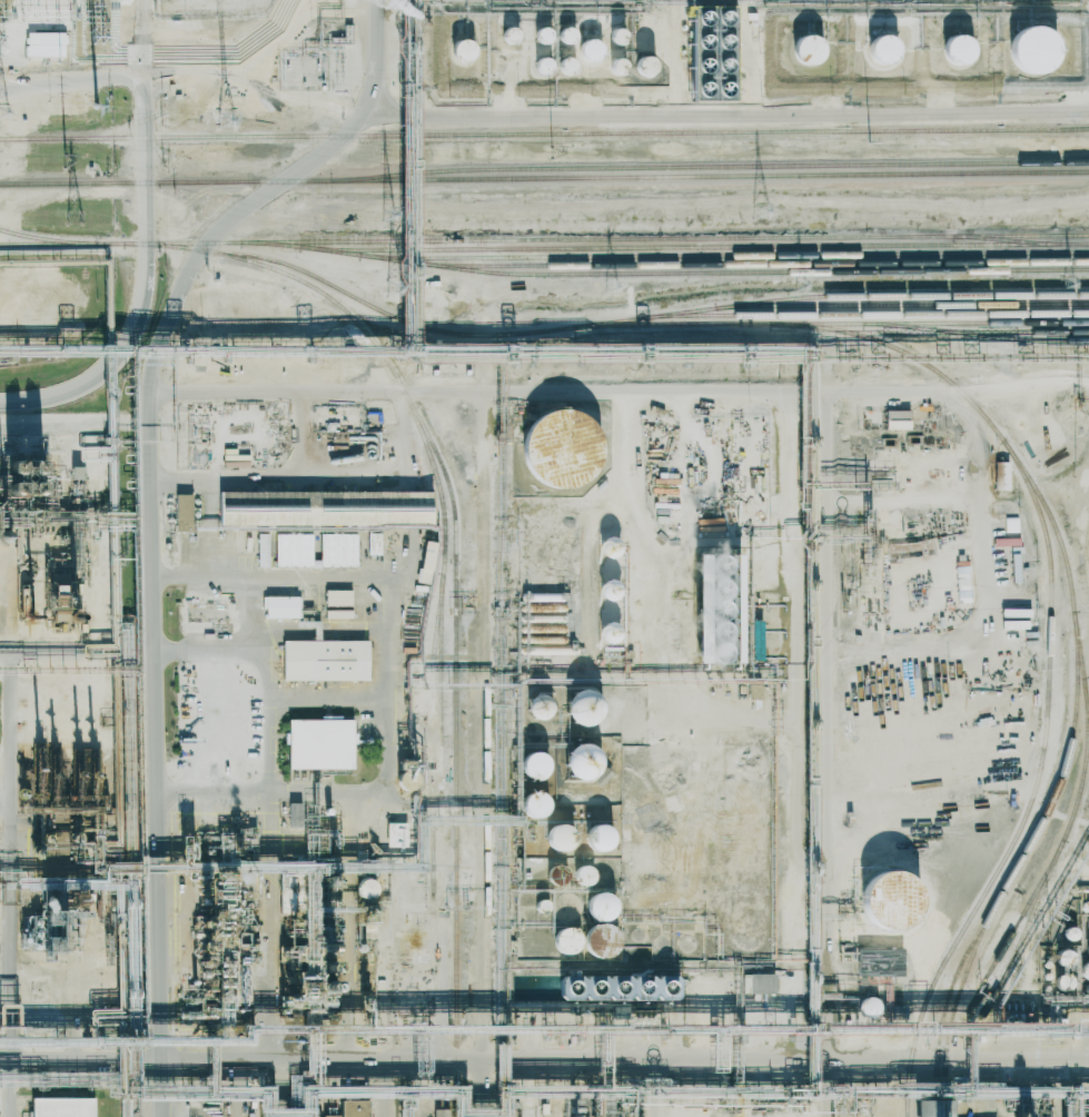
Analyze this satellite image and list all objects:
power substation: (212, 8)
building: (541, 33)
building: (508, 34)
building: (565, 34)
building: (616, 36)
building: (881, 48)
building: (588, 49)
building: (957, 49)
building: (806, 50)
building: (1032, 50)
building: (463, 51)
building: (564, 65)
building: (542, 66)
building: (615, 66)
building: (643, 67)
road: (71, 81)
power tower: (1, 111)
road: (726, 113)
railway: (148, 117)
power tower: (224, 119)
road: (143, 131)
railway: (544, 134)
power tower: (869, 144)
power tower: (545, 150)
railway: (710, 166)
power tower: (66, 168)
railway: (544, 177)
road: (276, 185)
power tower: (761, 210)
power tower: (387, 214)
power tower: (75, 217)
railway: (605, 238)
railway: (1007, 239)
railway: (61, 240)
railway: (51, 243)
railway: (693, 246)
railway: (723, 254)
railway: (752, 263)
railway: (663, 271)
power tower: (1068, 281)
power tower: (800, 284)
power tower: (393, 288)
railway: (824, 296)
railway: (901, 304)
railway: (864, 313)
railway: (976, 322)
railway: (929, 328)
railway: (438, 329)
railway: (1011, 337)
road: (105, 367)
road: (271, 388)
road: (388, 388)
building: (897, 419)
road: (75, 429)
building: (557, 448)
railway: (428, 453)
building: (1001, 475)
road: (230, 483)
building: (394, 510)
building: (263, 512)
building: (181, 513)
building: (374, 543)
building: (261, 550)
building: (293, 550)
building: (337, 550)
building: (610, 555)
building: (424, 562)
railway: (1067, 570)
railway: (455, 573)
building: (962, 573)
road: (380, 576)
building: (337, 597)
building: (281, 606)
building: (714, 609)
building: (610, 611)
road: (251, 612)
building: (1014, 613)
building: (338, 614)
building: (755, 643)
railway: (1048, 652)
building: (324, 660)
railway: (440, 681)
building: (537, 706)
building: (581, 708)
road: (273, 723)
railway: (432, 733)
road: (156, 742)
building: (319, 744)
railway: (1086, 760)
building: (580, 763)
building: (533, 767)
road: (317, 791)
building: (532, 805)
building: (294, 814)
building: (395, 834)
building: (600, 838)
building: (554, 840)
railway: (1024, 850)
building: (553, 877)
building: (583, 877)
road: (18, 886)
building: (365, 889)
building: (885, 900)
building: (542, 906)
building: (597, 907)
railway: (1023, 910)
building: (1088, 925)
railway: (1024, 928)
building: (1069, 933)
building: (564, 941)
building: (347, 959)
building: (1061, 959)
building: (878, 962)
building: (1083, 972)
railway: (962, 980)
building: (1061, 982)
building: (760, 983)
building: (615, 989)
building: (865, 1008)
road: (544, 1057)
road: (390, 1087)
railway: (935, 1097)
railway: (943, 1097)
building: (59, 1106)
building: (349, 1107)
building: (929, 1107)
building: (326, 1115)

